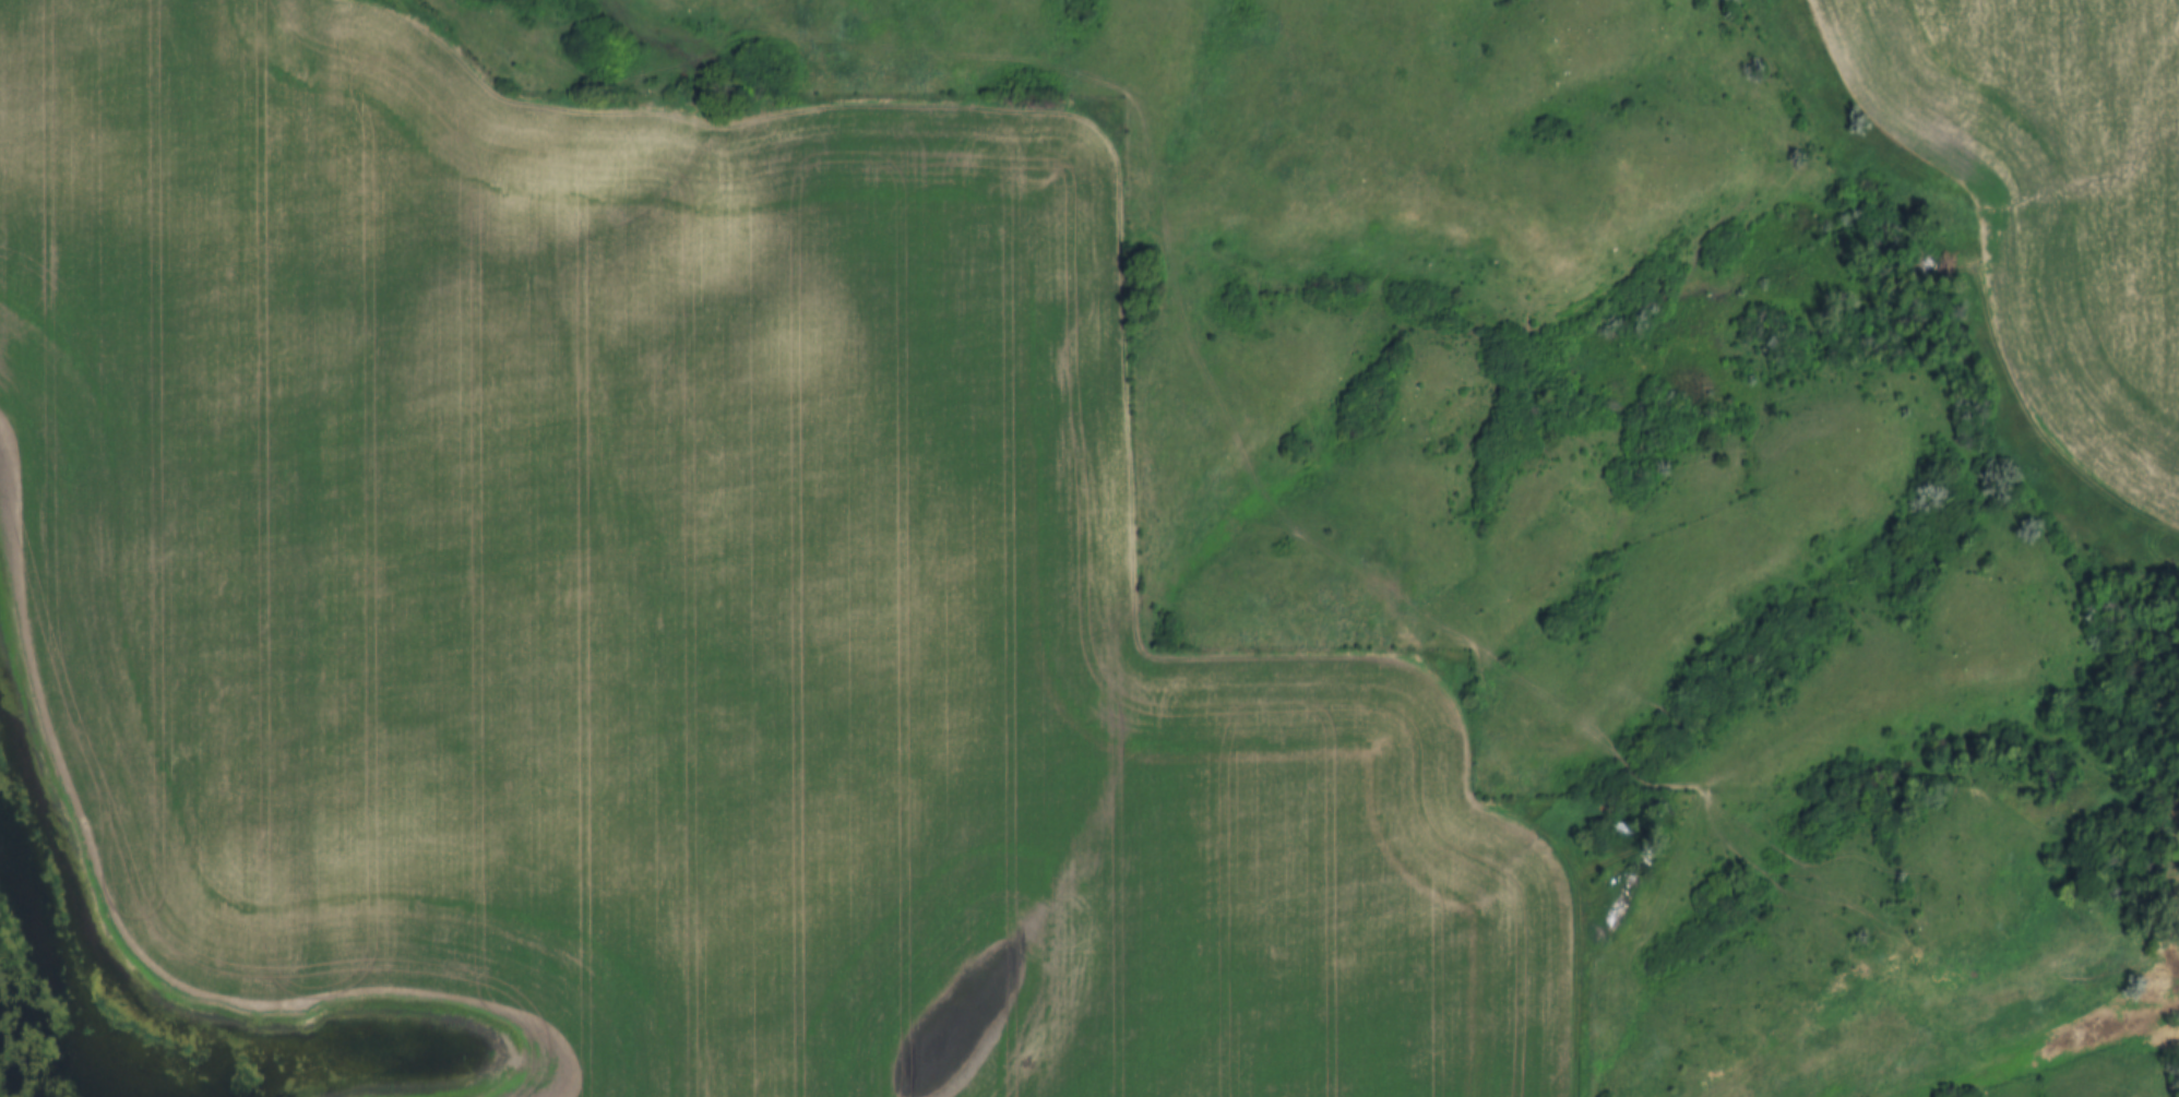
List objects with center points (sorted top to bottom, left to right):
road: (2021, 1051)

